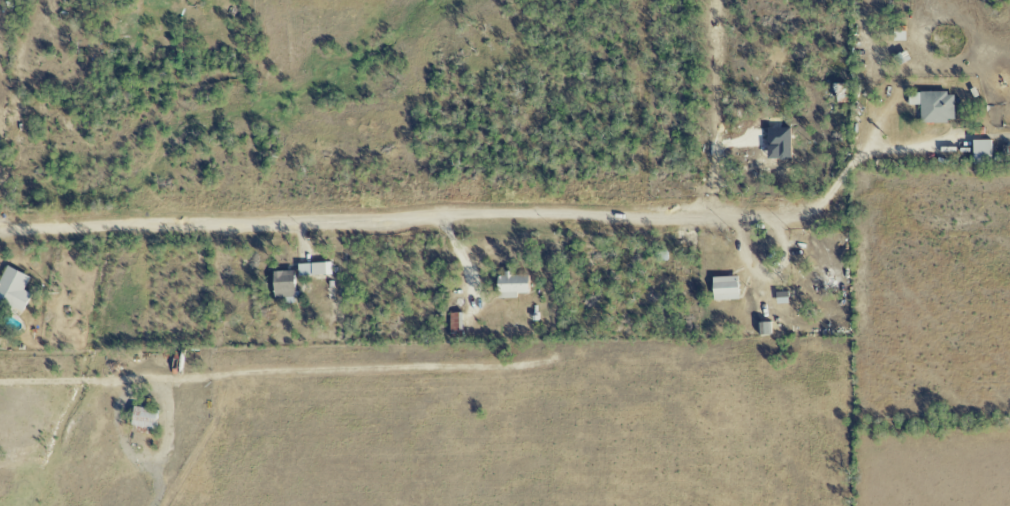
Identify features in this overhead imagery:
building: (931, 106)
building: (776, 144)
building: (980, 152)
road: (853, 162)
road: (386, 215)
building: (313, 270)
building: (282, 284)
building: (510, 286)
building: (14, 289)
building: (724, 289)
building: (455, 325)
road: (73, 381)
building: (142, 418)

